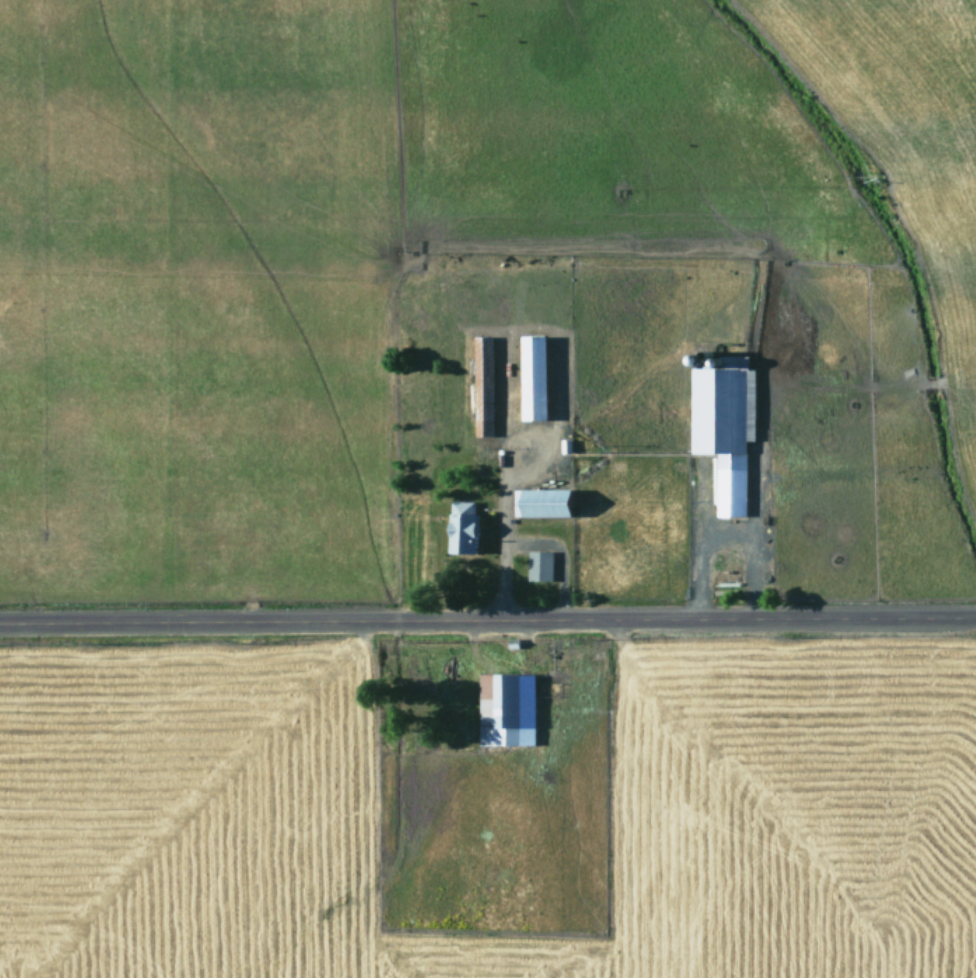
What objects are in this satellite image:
crop: (486, 319)
building: (539, 378)
building: (727, 430)
building: (549, 503)
building: (467, 528)
building: (541, 566)
road: (488, 622)
building: (510, 710)
crop: (491, 808)

